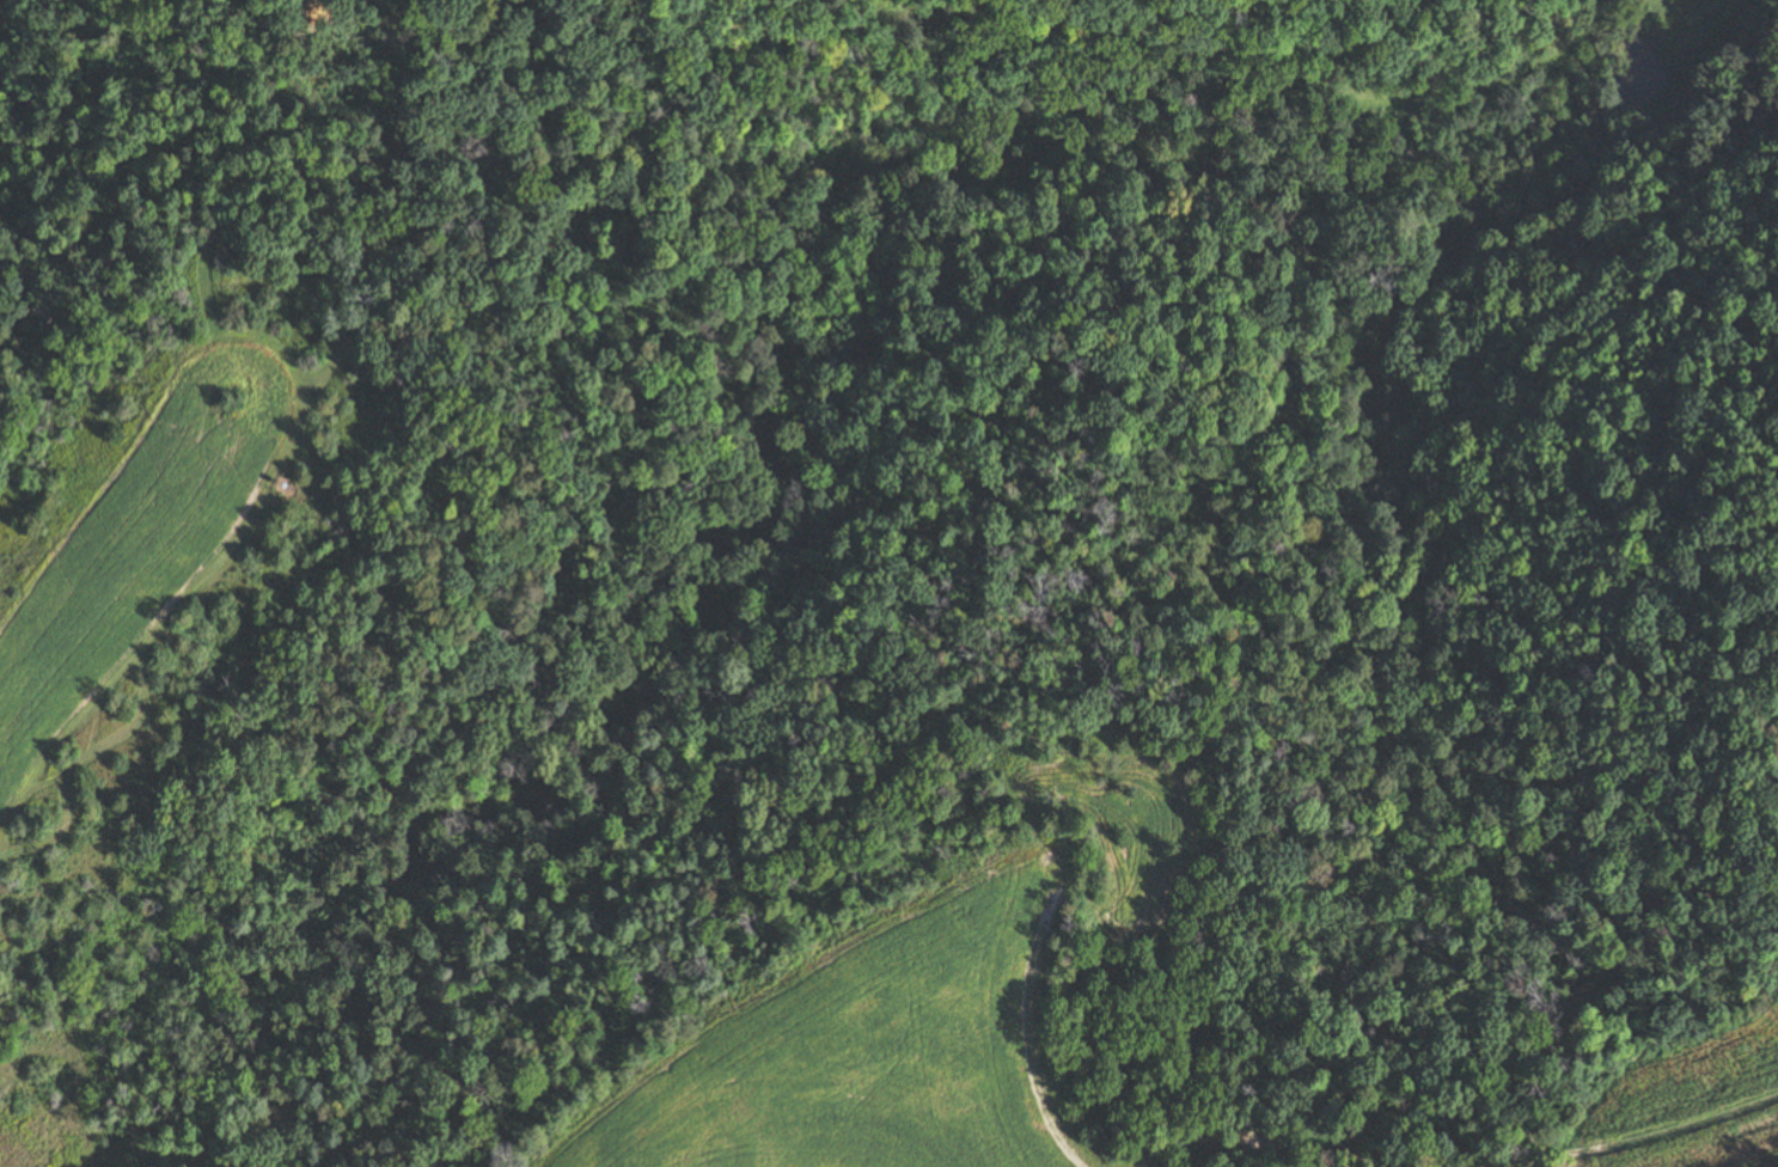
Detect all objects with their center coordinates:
road: (147, 790)

